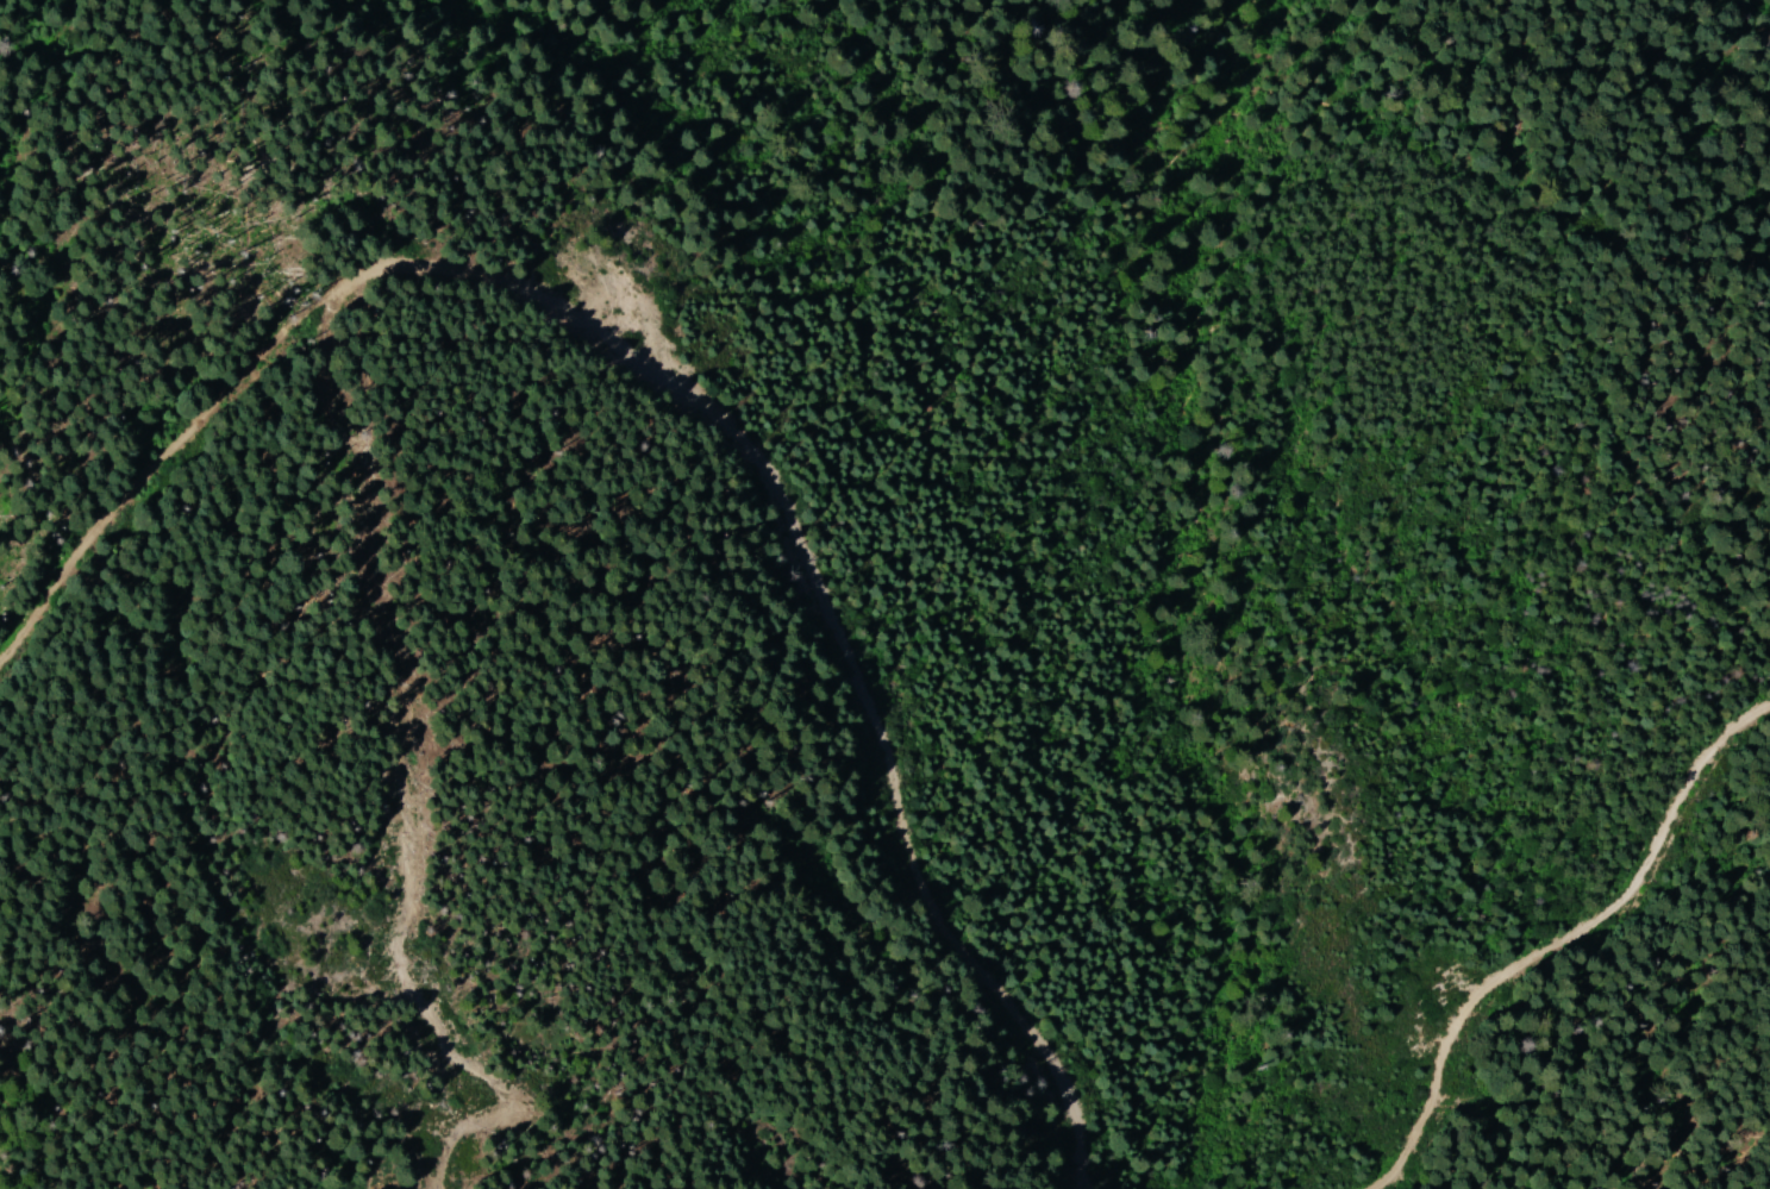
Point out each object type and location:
road: (695, 395)
road: (1569, 946)

